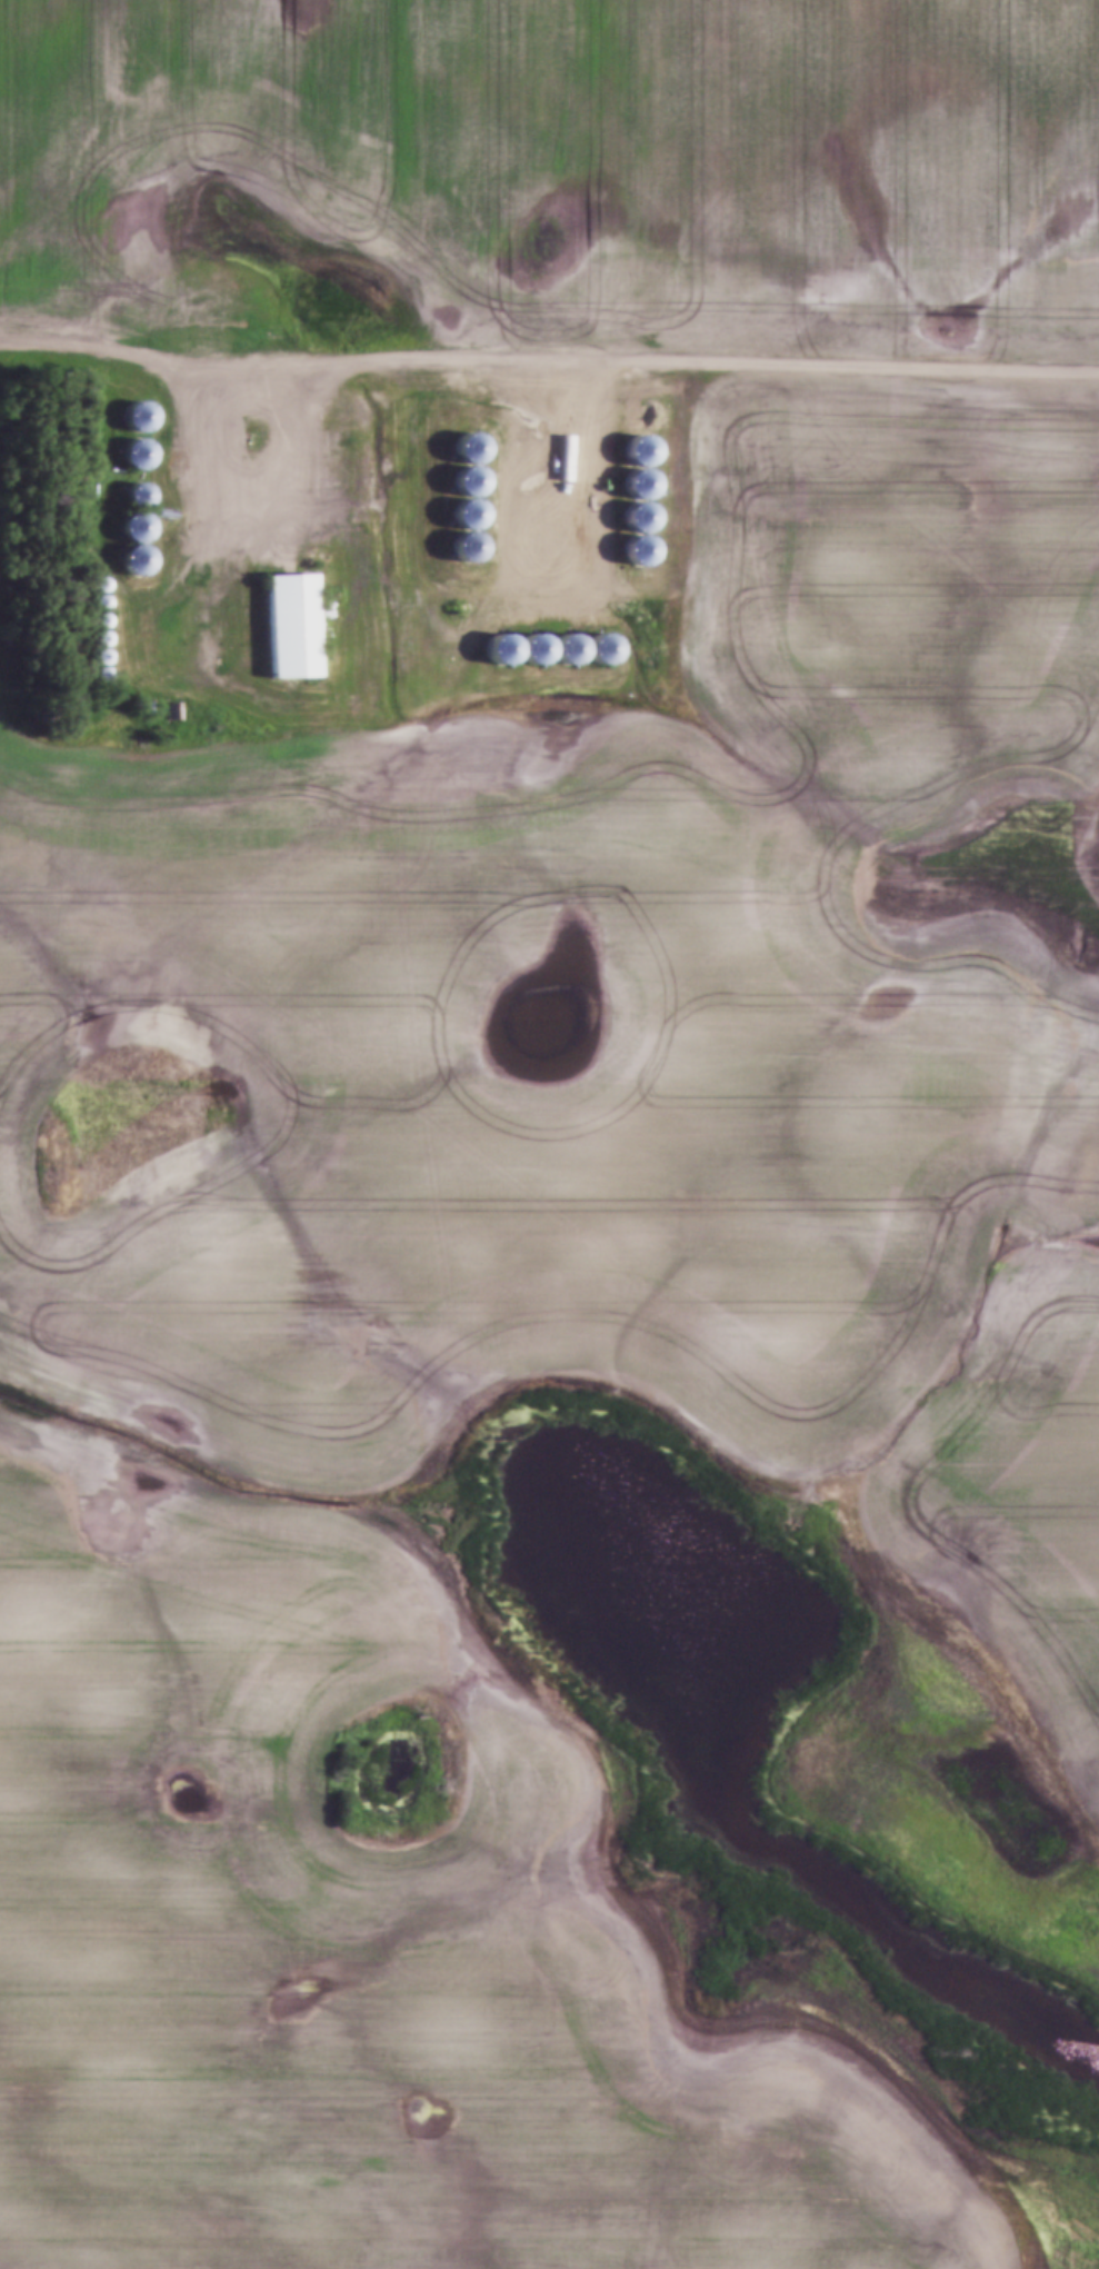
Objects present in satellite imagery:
road: (547, 362)
building: (134, 418)
building: (460, 450)
building: (131, 456)
road: (561, 480)
building: (460, 489)
building: (129, 515)
road: (246, 538)
building: (460, 550)
building: (284, 626)
road: (129, 681)

